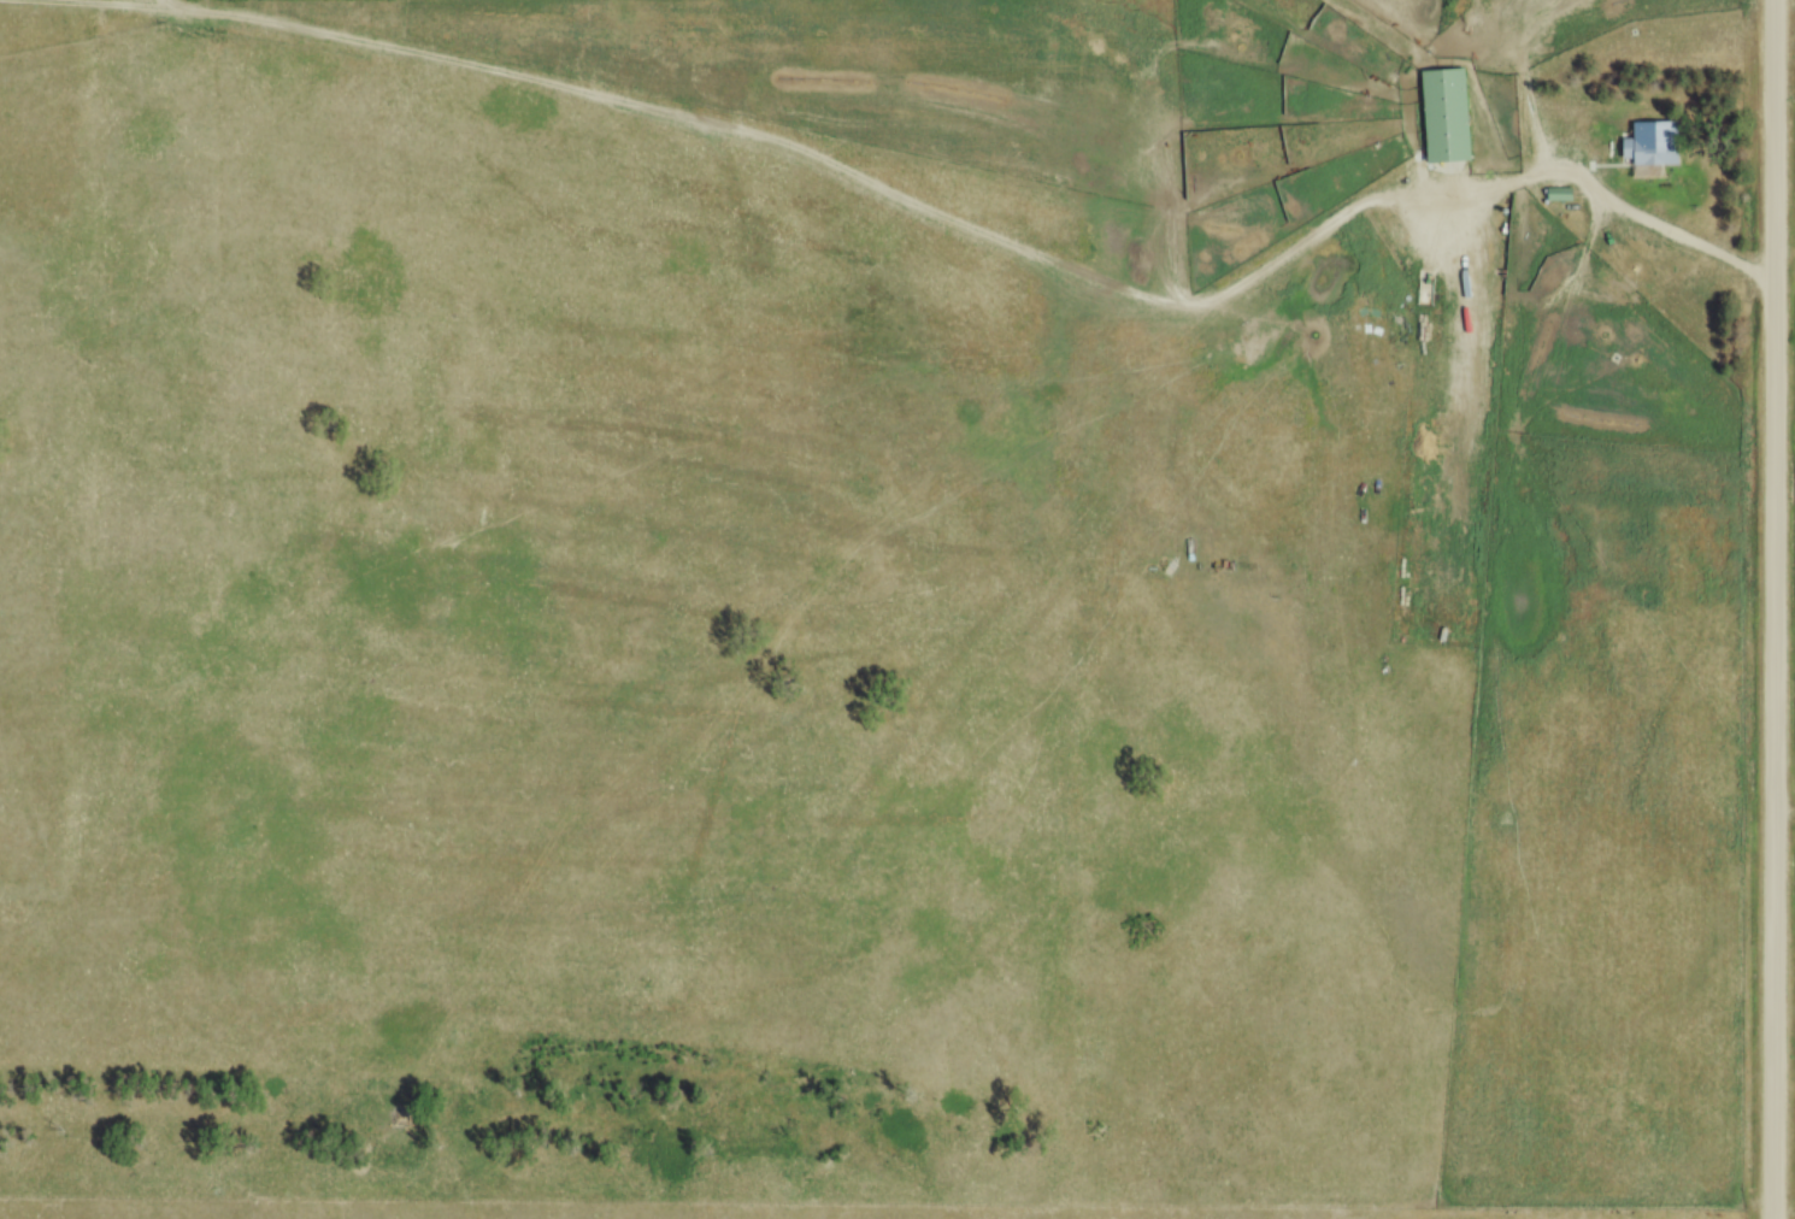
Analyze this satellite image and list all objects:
building: (1450, 118)
building: (1654, 153)
road: (1773, 608)

